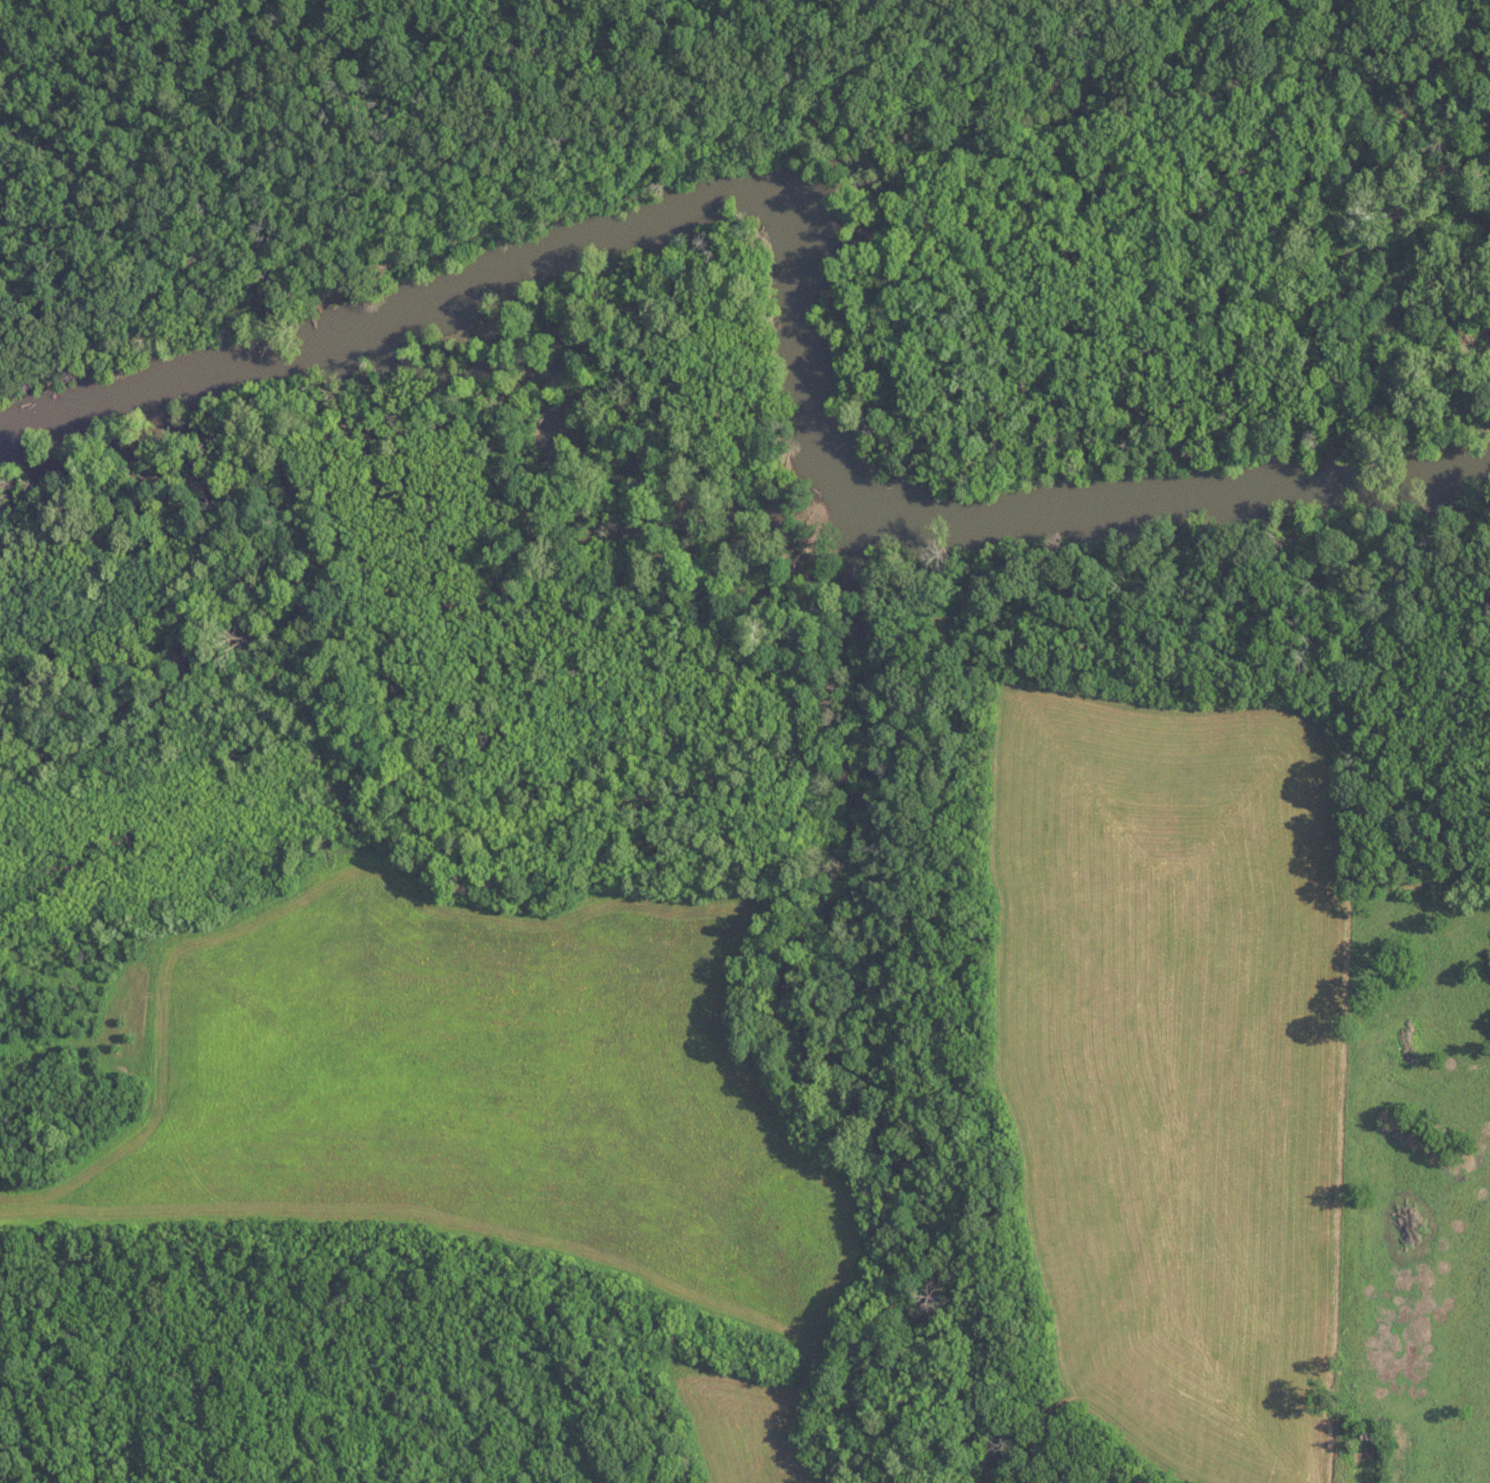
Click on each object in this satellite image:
river: (811, 245)

